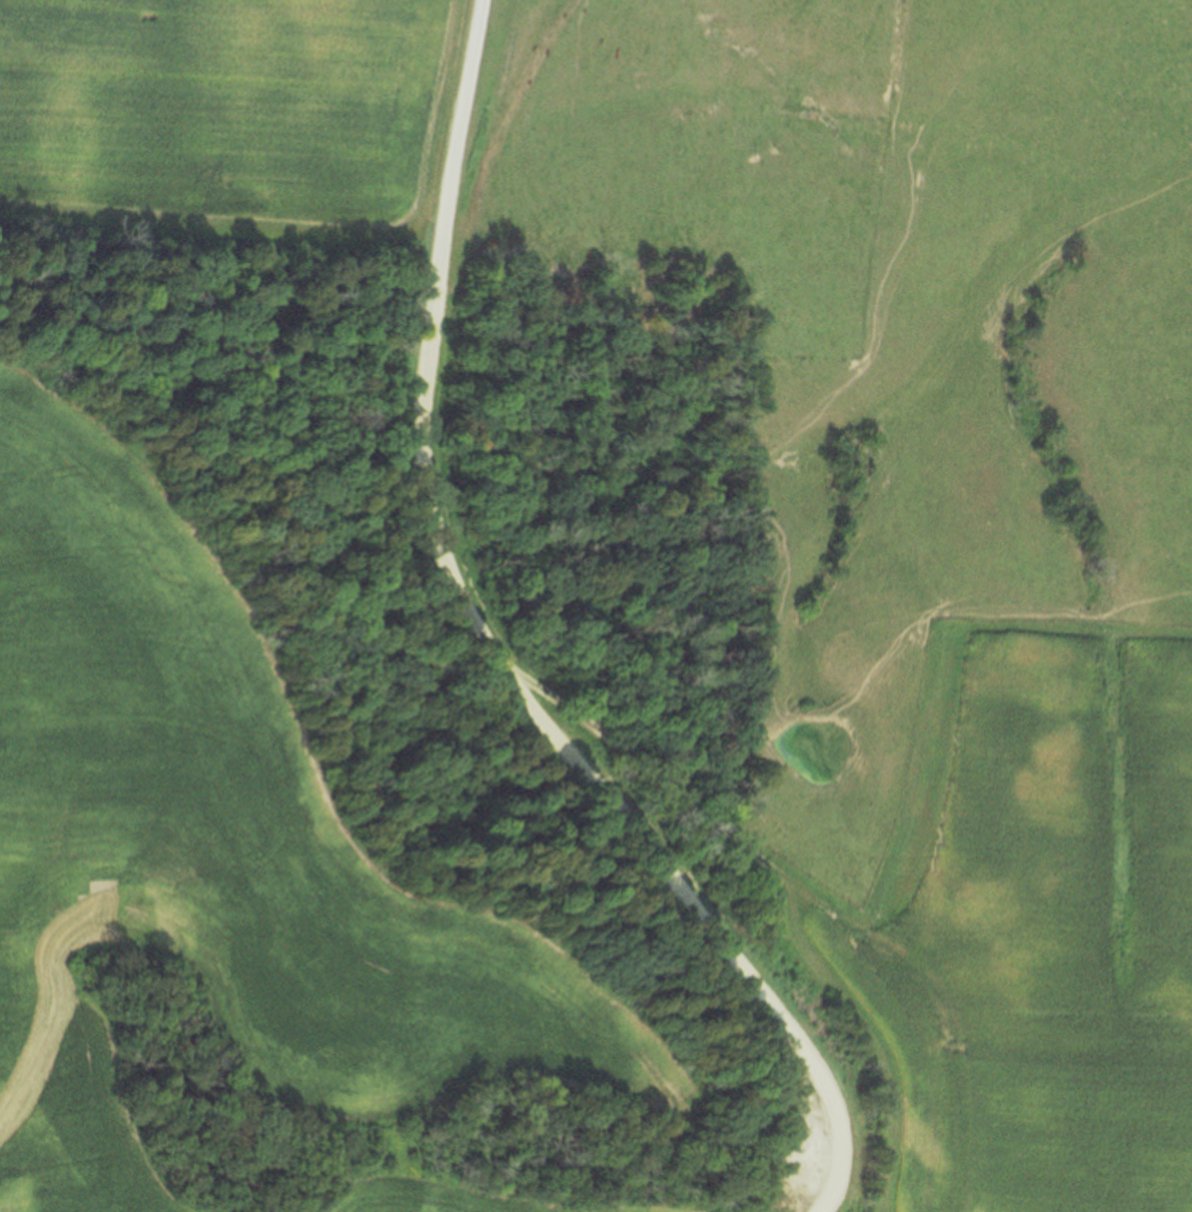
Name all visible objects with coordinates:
road: (485, 661)

